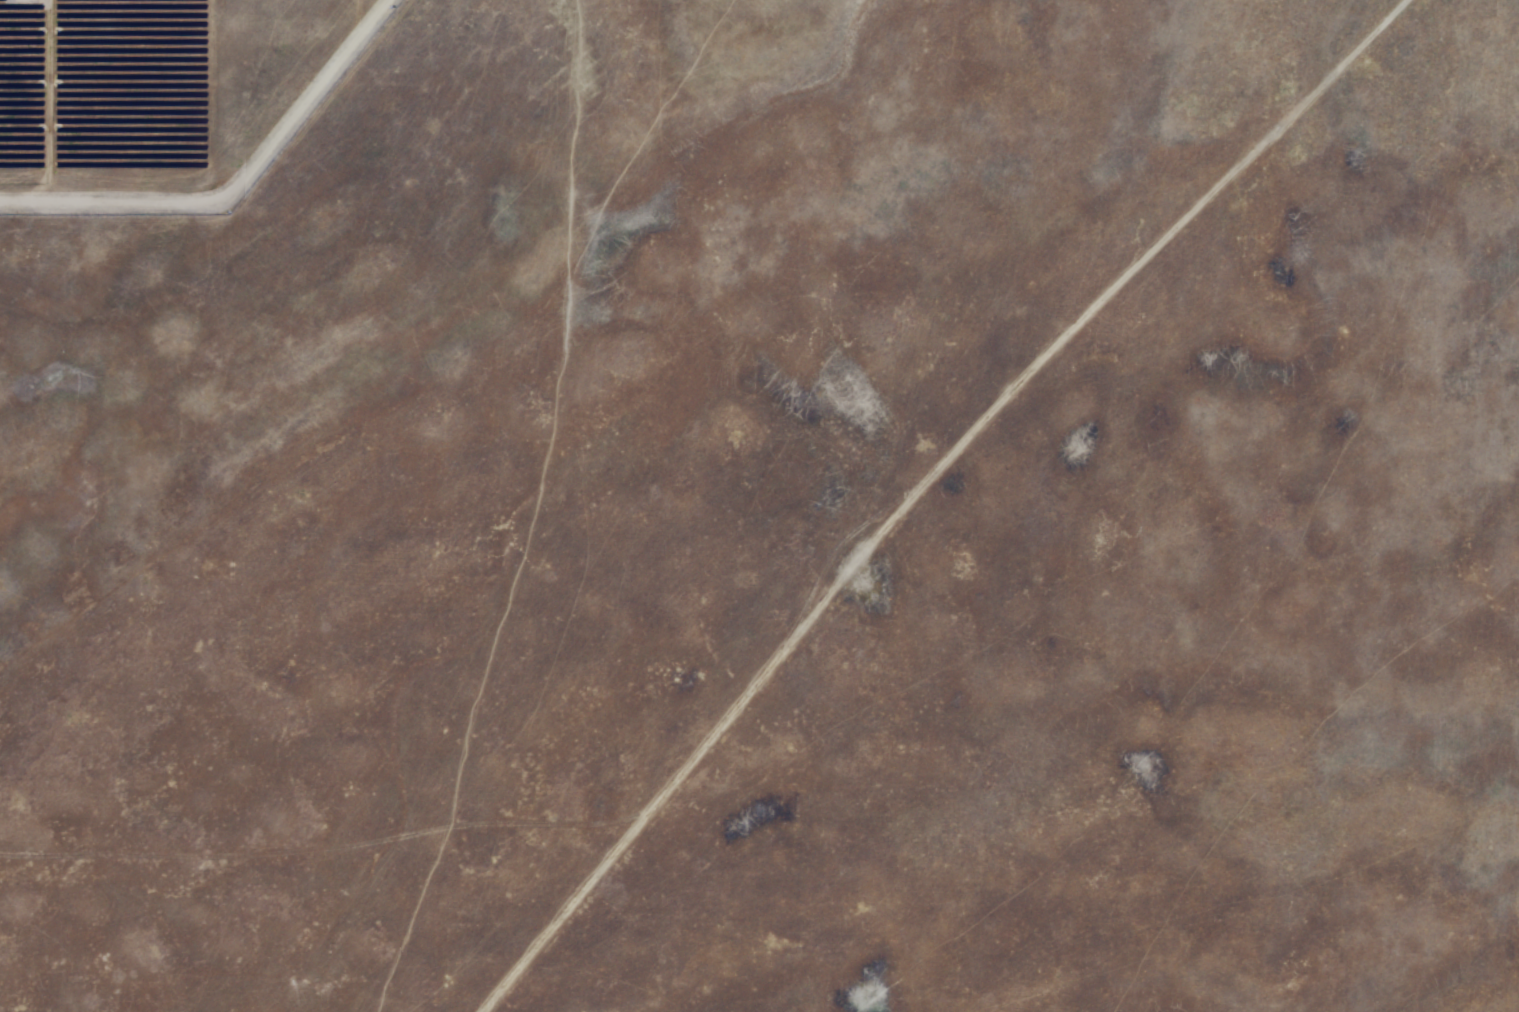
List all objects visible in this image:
solar farm: (295, 176)
road: (925, 485)

